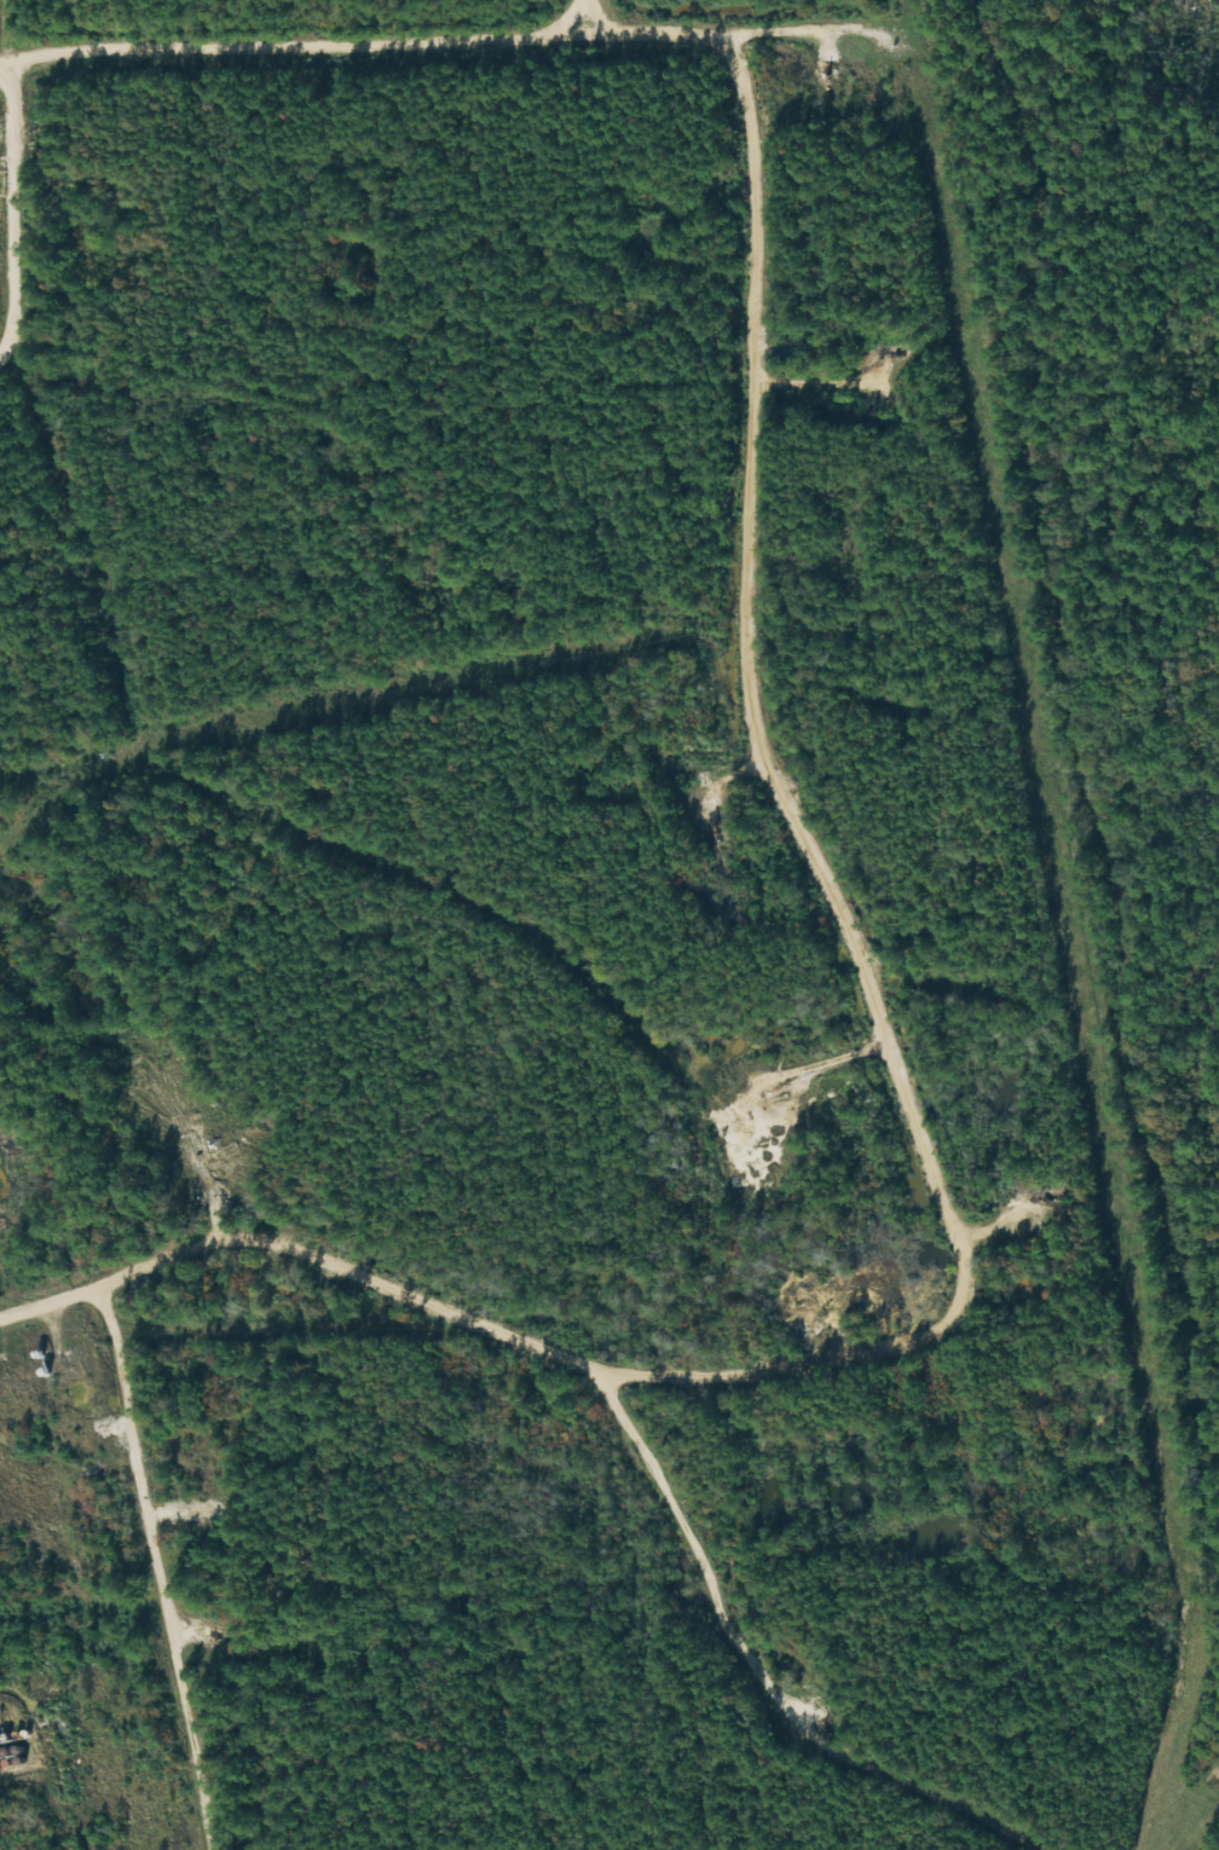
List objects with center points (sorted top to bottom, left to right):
road: (571, 2)
road: (418, 18)
road: (799, 831)
road: (486, 1288)
road: (143, 1566)

